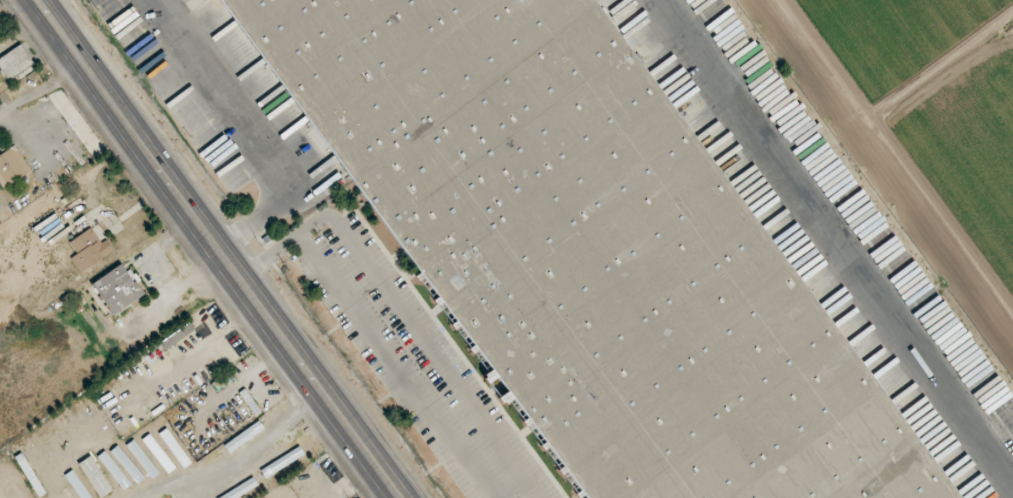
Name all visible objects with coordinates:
building: (15, 62)
road: (39, 86)
road: (253, 134)
building: (12, 167)
road: (98, 205)
road: (219, 248)
building: (589, 248)
building: (89, 250)
road: (157, 276)
building: (118, 289)
road: (376, 335)
building: (140, 454)
road: (237, 456)
building: (30, 475)
building: (8, 478)
building: (68, 484)

